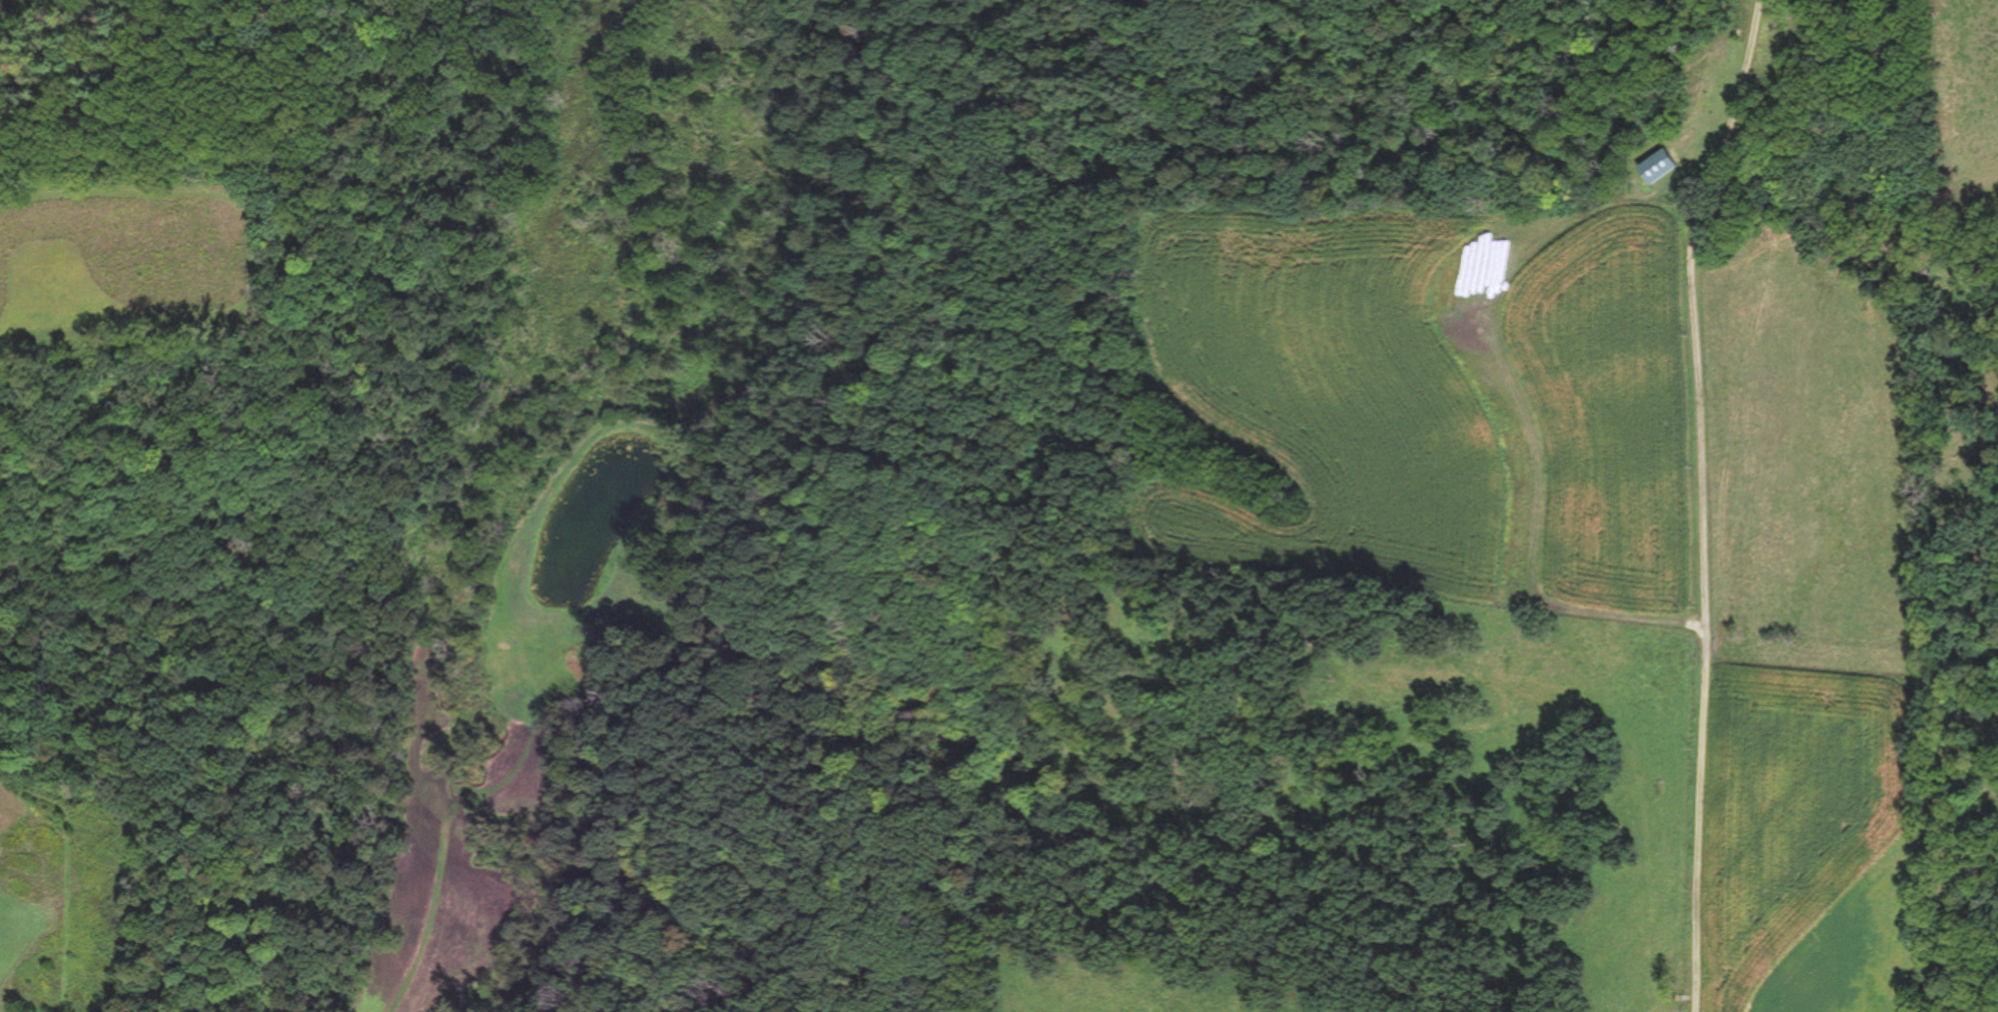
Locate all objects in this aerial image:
road: (1728, 503)

